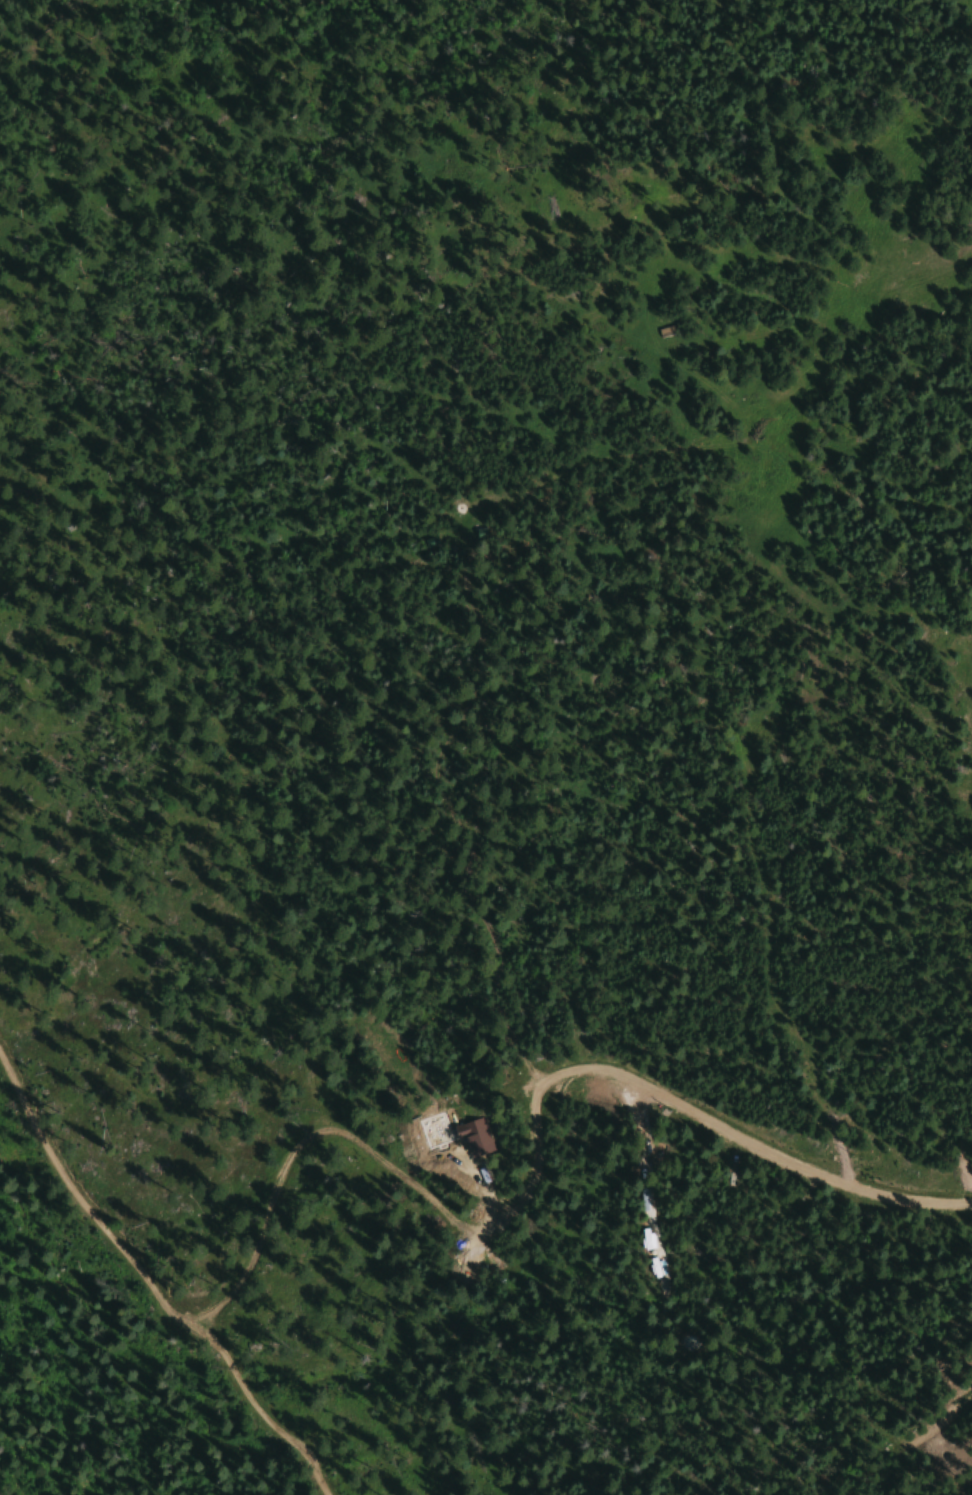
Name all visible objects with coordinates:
building: (665, 331)
road: (155, 1271)

